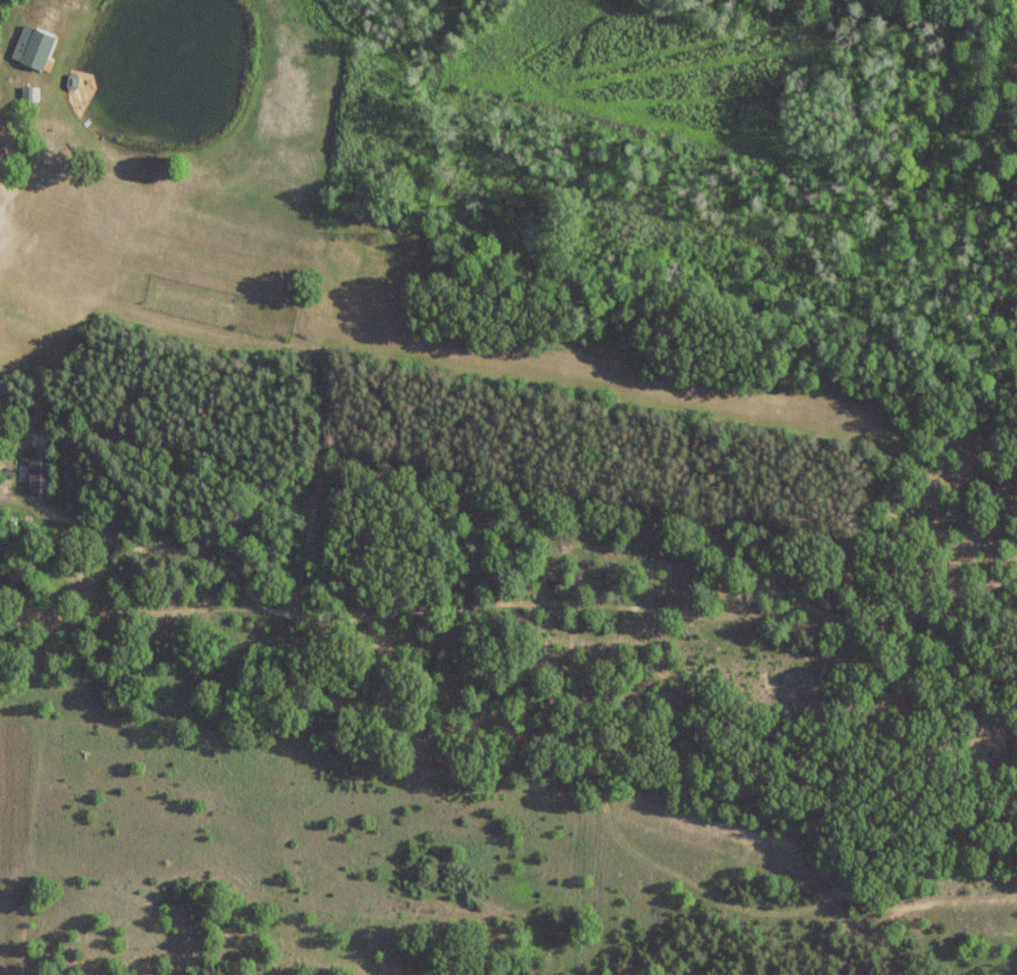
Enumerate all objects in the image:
building: (29, 95)
building: (43, 470)

